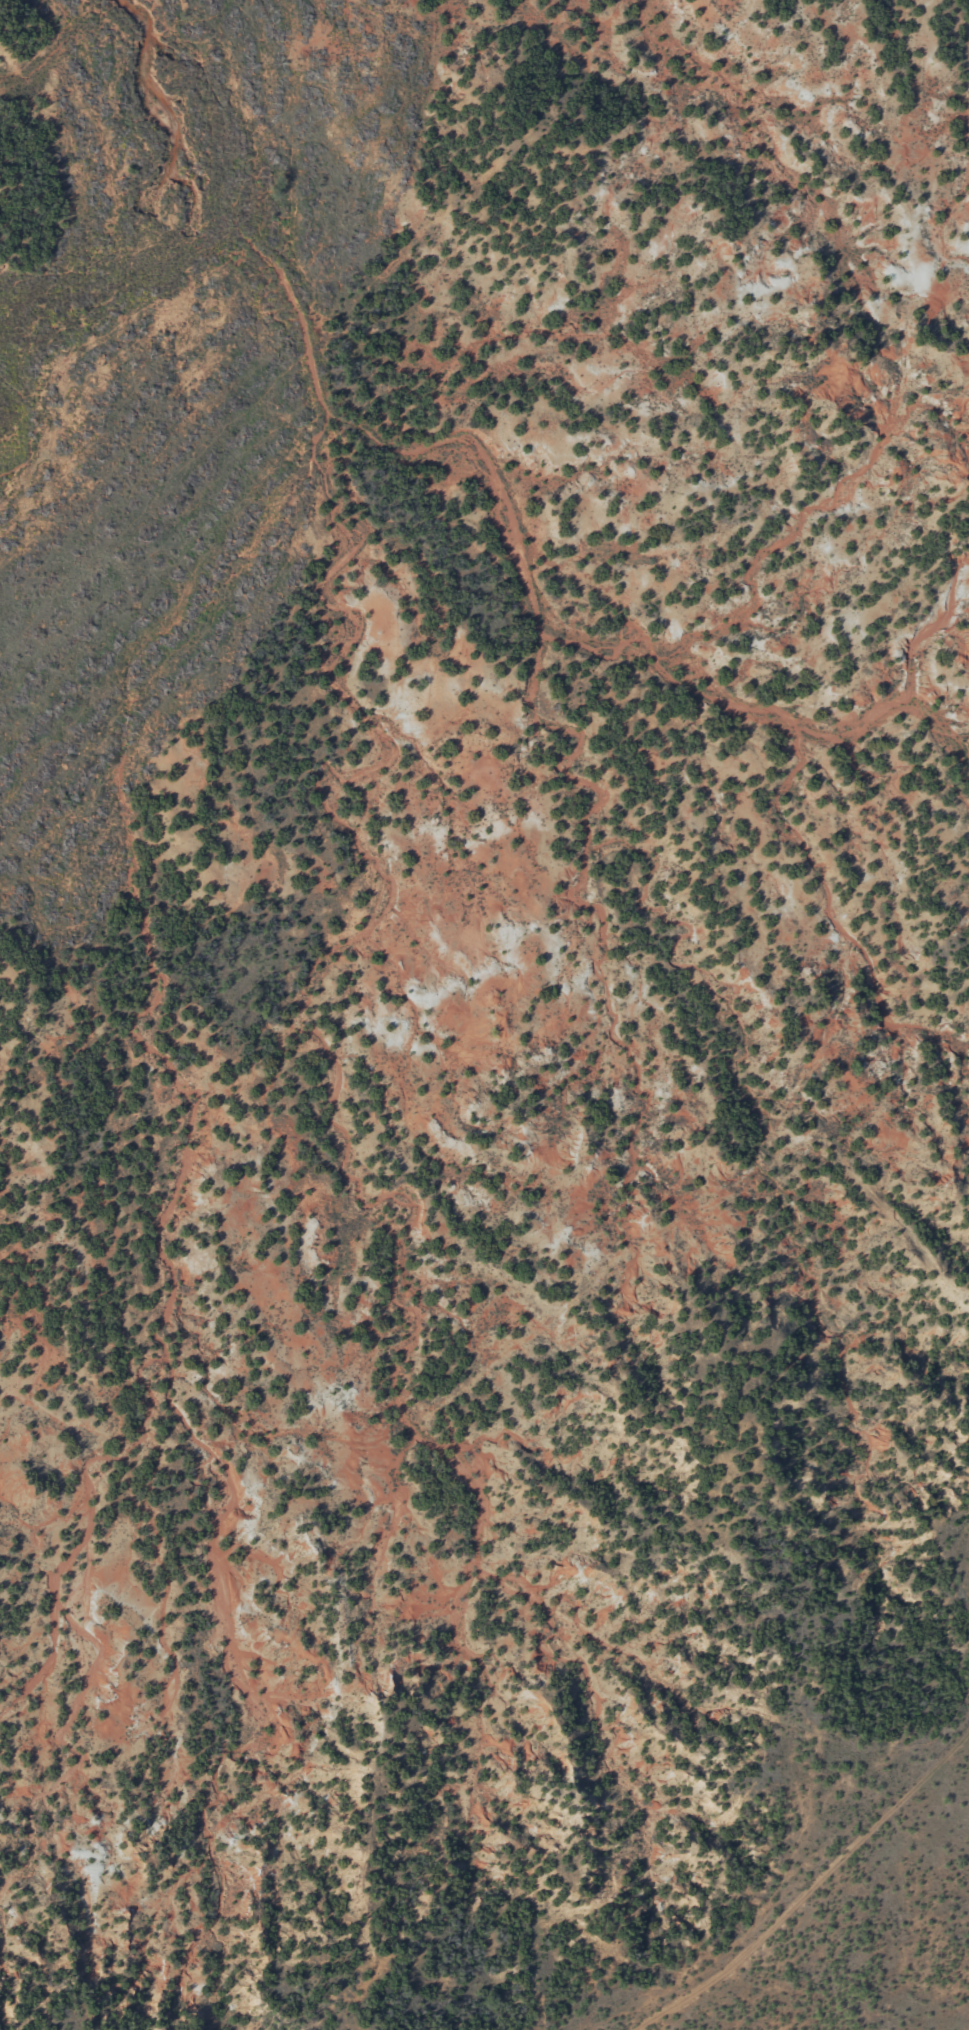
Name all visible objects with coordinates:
road: (917, 2003)

